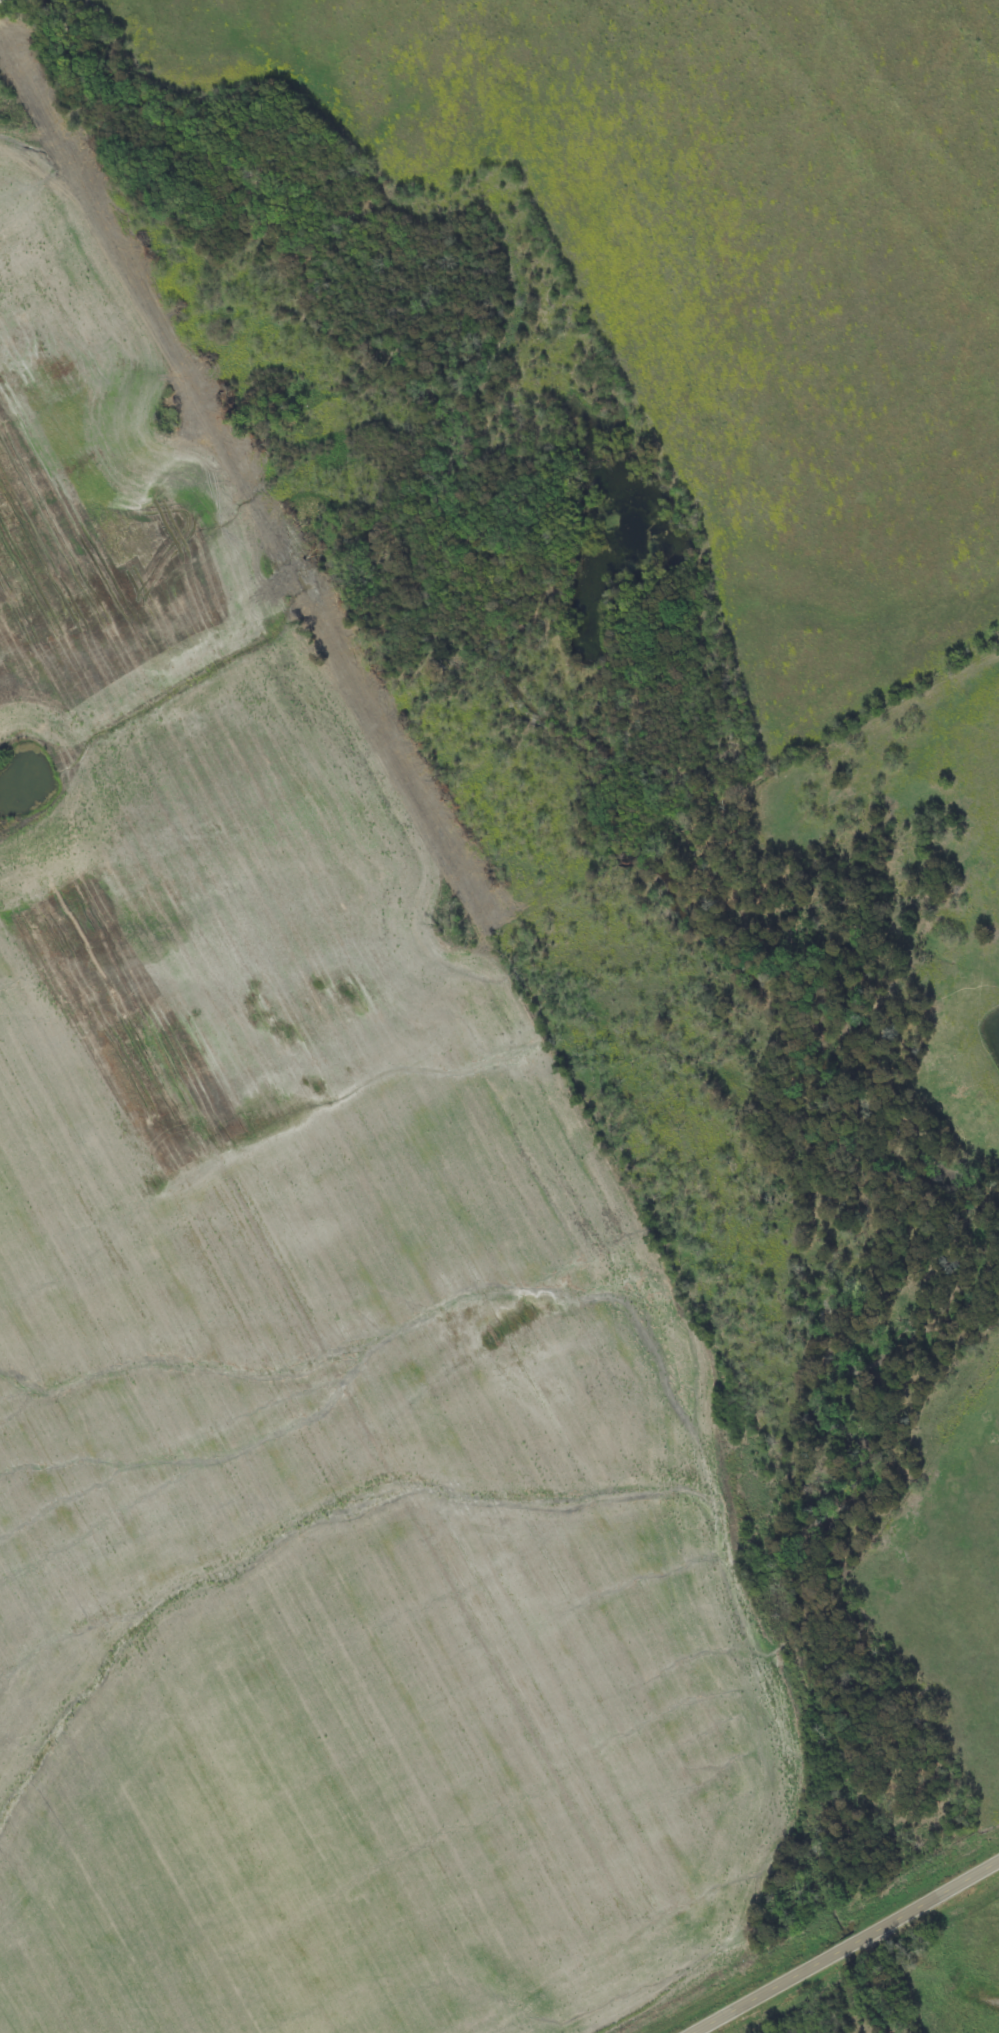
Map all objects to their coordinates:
road: (845, 1947)

